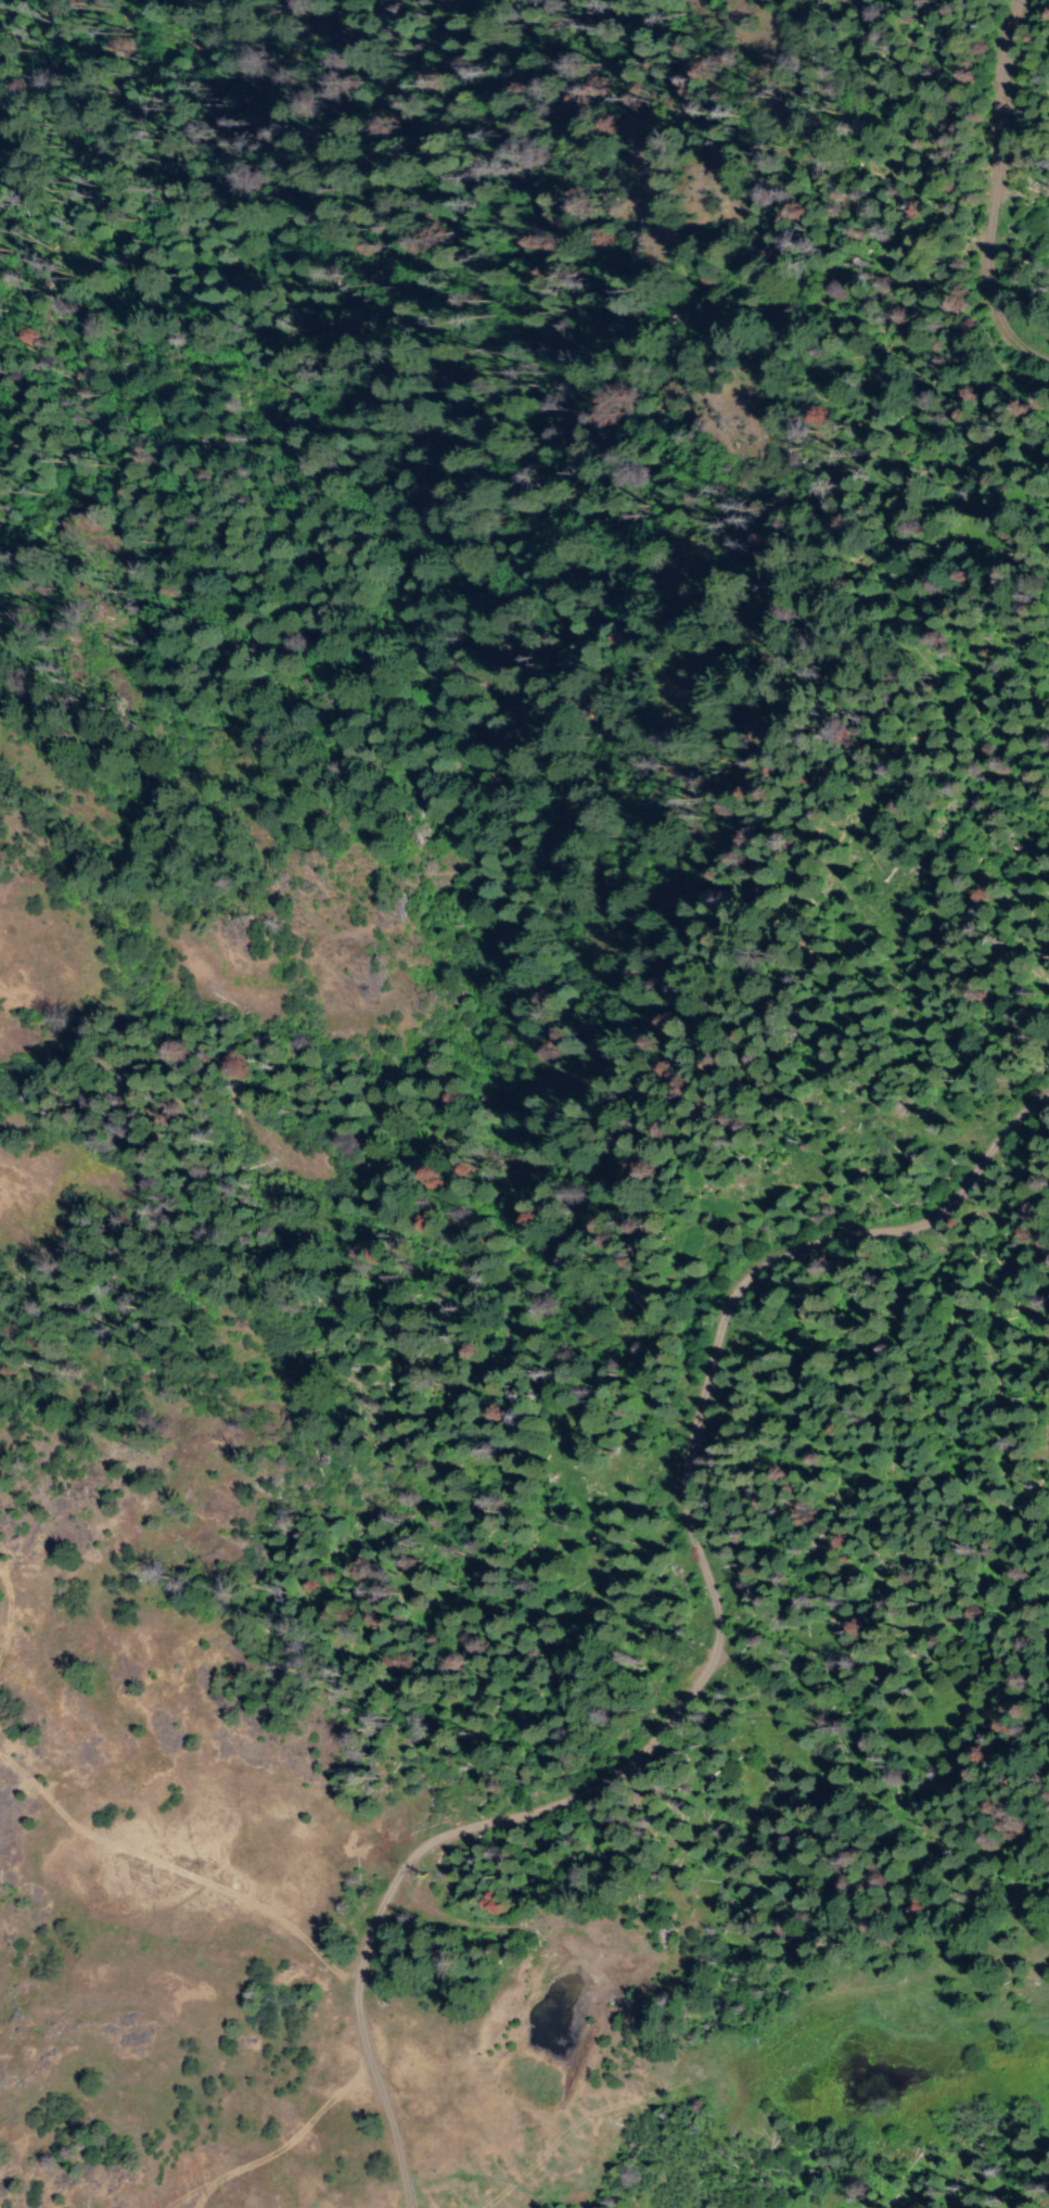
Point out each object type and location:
road: (1012, 185)

